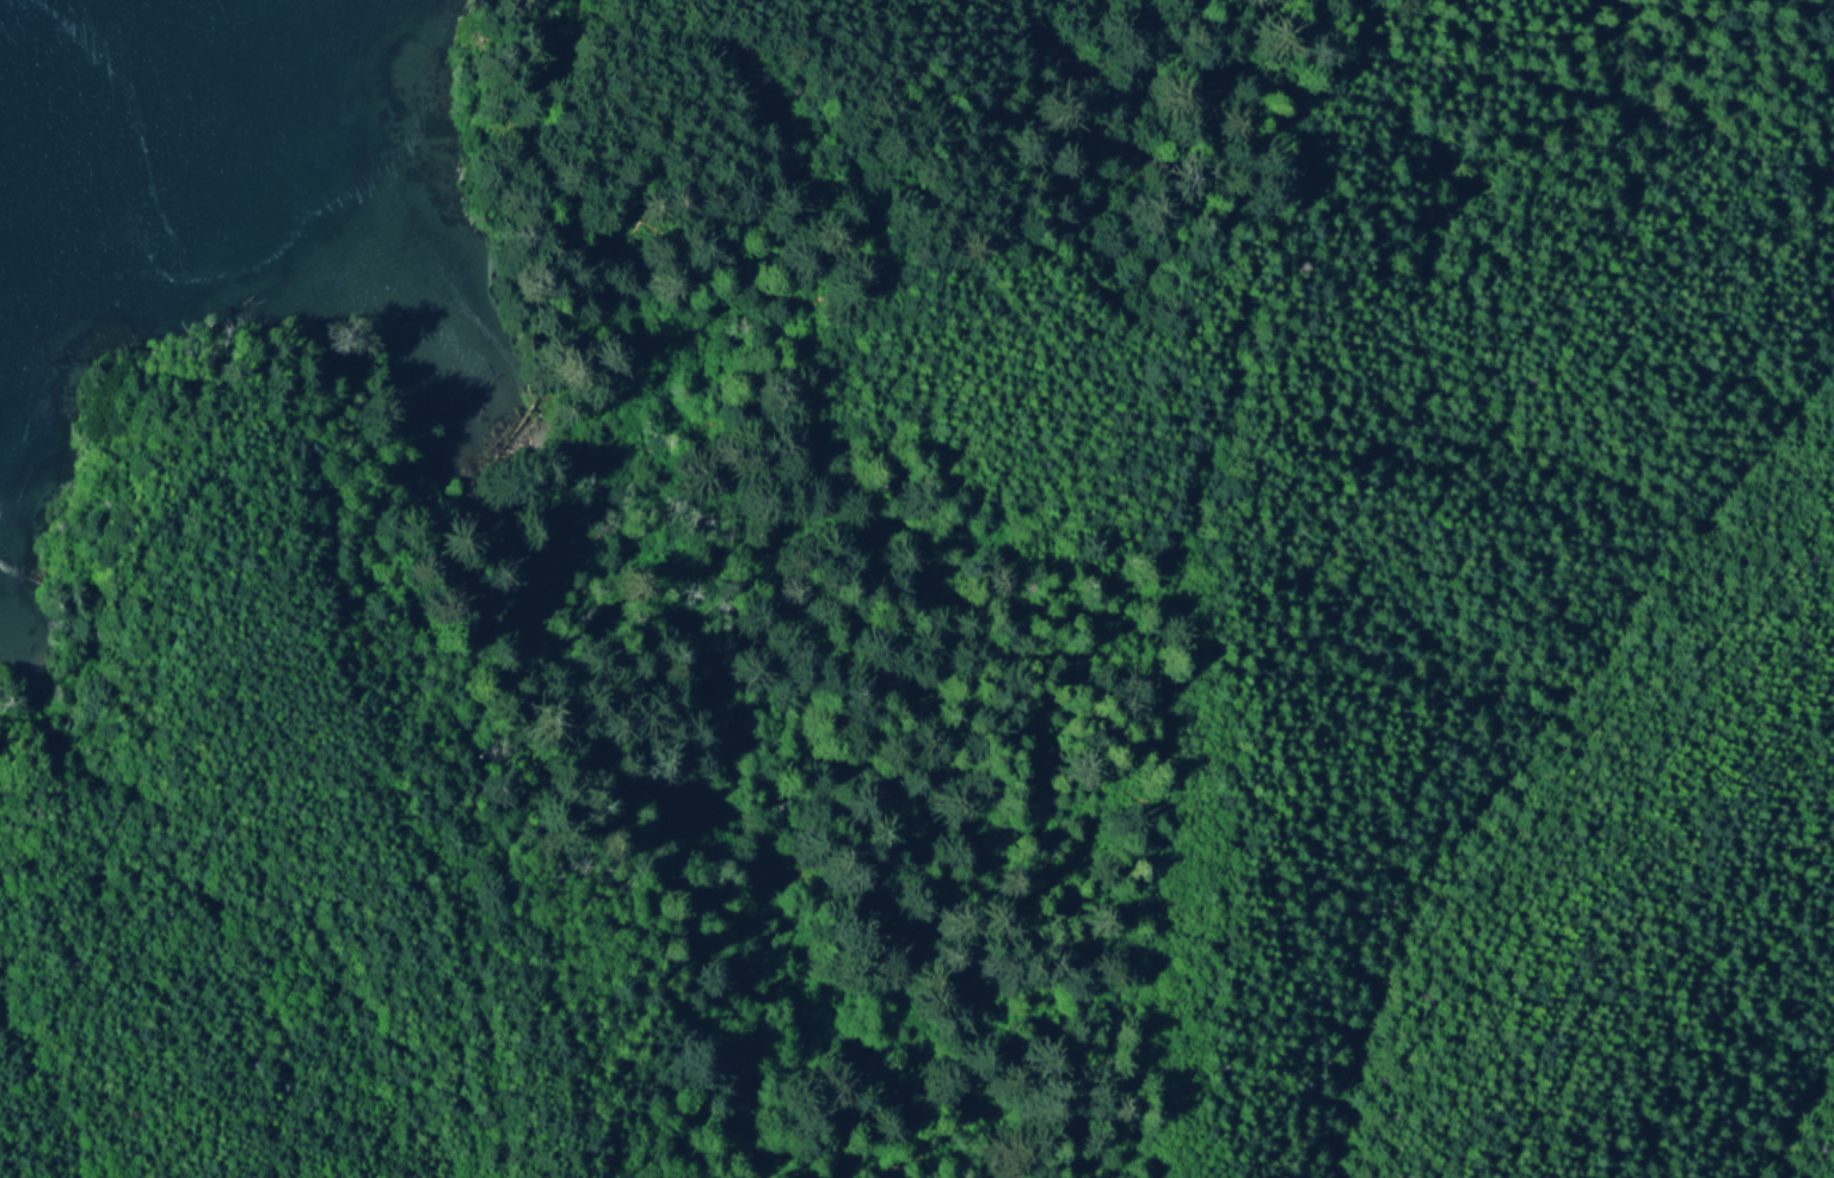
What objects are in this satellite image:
road: (1656, 221)

